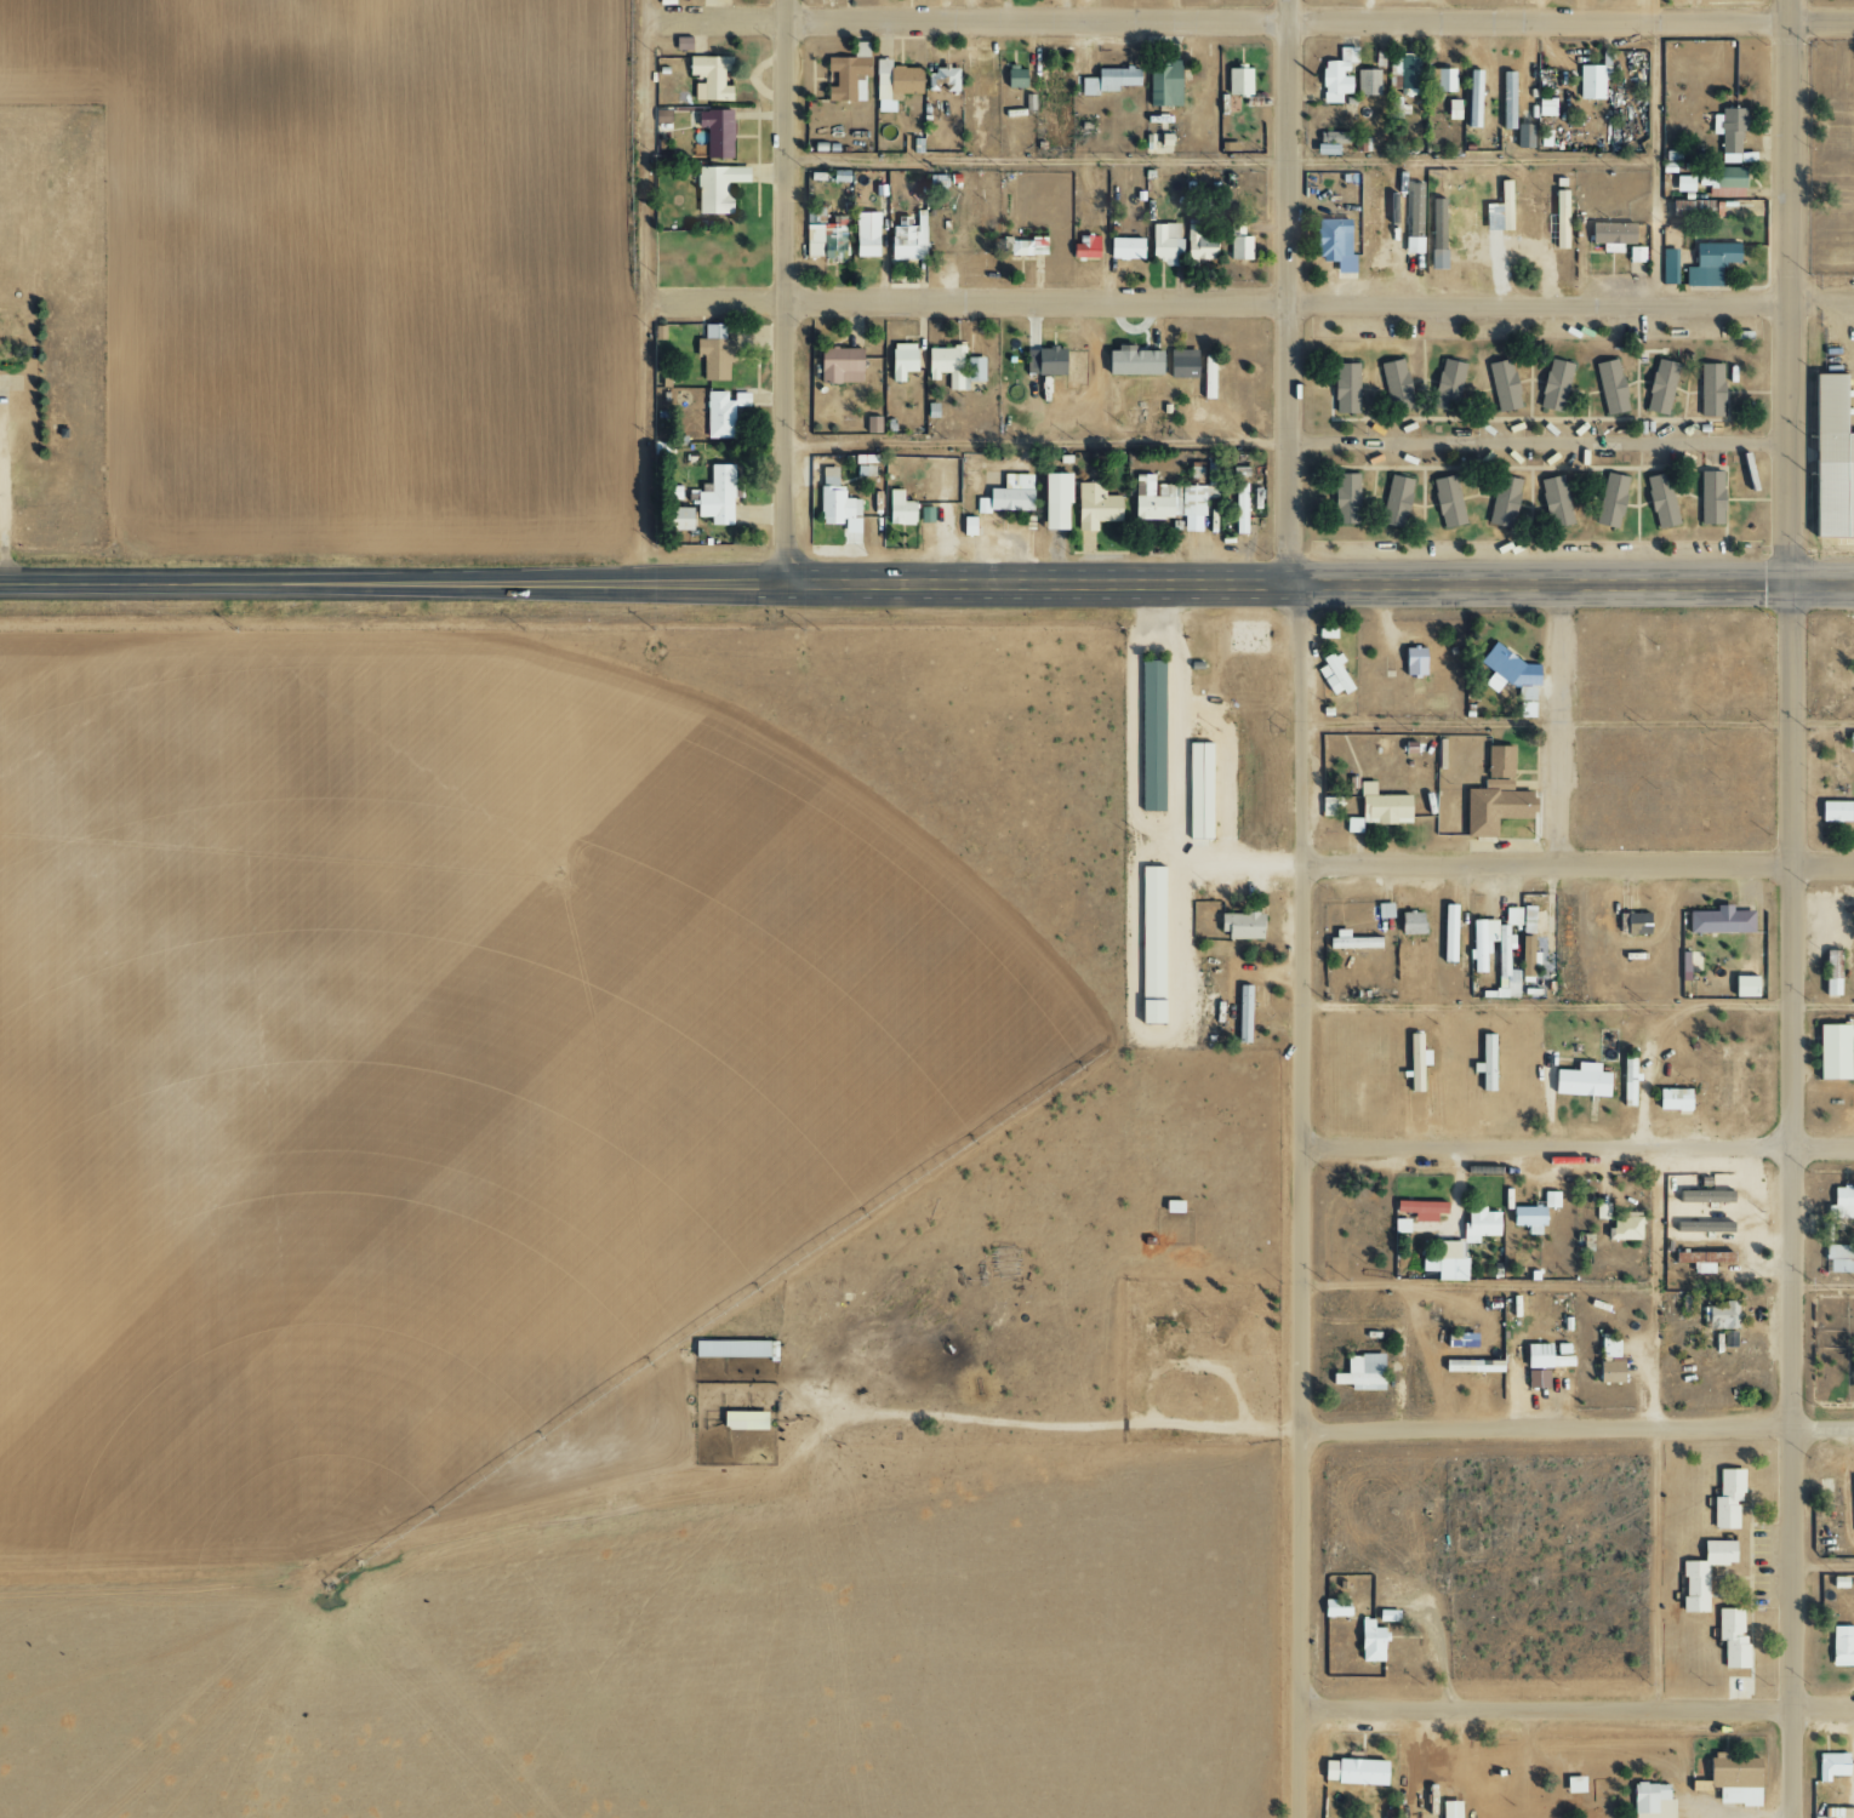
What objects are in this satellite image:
road: (1248, 22)
building: (680, 44)
building: (1404, 74)
building: (846, 75)
building: (1335, 76)
building: (707, 78)
building: (1014, 78)
building: (892, 80)
building: (1443, 80)
building: (1107, 81)
building: (1237, 81)
building: (1591, 81)
building: (1367, 82)
building: (1162, 85)
building: (1472, 98)
building: (1506, 101)
building: (1545, 108)
building: (1451, 109)
building: (1728, 128)
building: (715, 133)
road: (1655, 151)
road: (1220, 161)
building: (1721, 182)
building: (935, 184)
building: (715, 189)
building: (1689, 210)
building: (1498, 211)
building: (1413, 218)
building: (1558, 219)
building: (1436, 234)
building: (865, 235)
building: (822, 236)
building: (1609, 236)
building: (1164, 242)
building: (1238, 242)
building: (1198, 244)
building: (1025, 247)
building: (1084, 247)
building: (1123, 248)
building: (1633, 255)
building: (1342, 263)
building: (1708, 263)
road: (1791, 290)
road: (645, 292)
road: (783, 292)
road: (1219, 302)
building: (713, 354)
building: (900, 361)
building: (1043, 361)
building: (1131, 364)
building: (1181, 364)
building: (838, 366)
building: (952, 367)
building: (1205, 377)
building: (1393, 385)
building: (1445, 385)
building: (1502, 385)
building: (1553, 385)
building: (1609, 387)
building: (1659, 387)
building: (1344, 389)
building: (1708, 390)
building: (721, 412)
building: (872, 425)
road: (1540, 441)
road: (1036, 442)
building: (1830, 463)
building: (1213, 480)
road: (0, 491)
building: (715, 497)
building: (1006, 498)
building: (1708, 498)
building: (832, 499)
building: (1344, 499)
building: (1609, 501)
building: (1659, 501)
building: (1052, 502)
building: (1169, 502)
building: (1393, 502)
building: (1445, 502)
building: (1553, 502)
building: (1501, 503)
building: (1095, 507)
building: (1239, 508)
building: (897, 509)
building: (680, 520)
building: (966, 526)
road: (146, 584)
road: (1073, 584)
building: (1411, 661)
building: (1333, 676)
road: (1556, 721)
road: (1578, 722)
building: (1148, 733)
building: (1849, 739)
building: (1197, 790)
building: (1494, 795)
building: (1328, 806)
building: (1376, 808)
building: (1836, 811)
road: (1579, 862)
road: (1303, 908)
building: (1384, 910)
building: (1510, 916)
building: (1525, 920)
building: (1718, 921)
building: (1409, 922)
building: (1635, 924)
building: (1239, 926)
building: (1150, 931)
building: (1447, 933)
building: (1348, 942)
building: (1476, 961)
building: (1683, 966)
building: (1829, 973)
building: (1742, 987)
road: (1579, 1008)
building: (1147, 1012)
building: (1242, 1014)
building: (1831, 1052)
building: (1414, 1062)
building: (1578, 1081)
building: (1626, 1081)
building: (1671, 1099)
road: (1579, 1143)
road: (1790, 1199)
building: (1548, 1200)
building: (1841, 1202)
building: (1170, 1207)
building: (1419, 1207)
building: (1601, 1211)
building: (1525, 1219)
building: (1477, 1224)
building: (1624, 1227)
building: (1839, 1258)
building: (1449, 1260)
building: (1701, 1260)
road: (1821, 1287)
building: (1721, 1316)
building: (1725, 1337)
building: (1608, 1347)
building: (731, 1349)
building: (1545, 1356)
building: (1451, 1366)
building: (1607, 1372)
building: (1359, 1373)
building: (1850, 1374)
building: (1535, 1379)
building: (741, 1420)
road: (1331, 1430)
building: (1853, 1491)
building: (1725, 1498)
road: (1821, 1567)
building: (1701, 1573)
building: (1837, 1582)
building: (1334, 1607)
building: (1730, 1637)
building: (1368, 1641)
building: (1841, 1646)
road: (1576, 1709)
building: (1830, 1766)
building: (1351, 1772)
building: (1732, 1778)
building: (1573, 1784)
building: (1650, 1801)
building: (1448, 1810)

